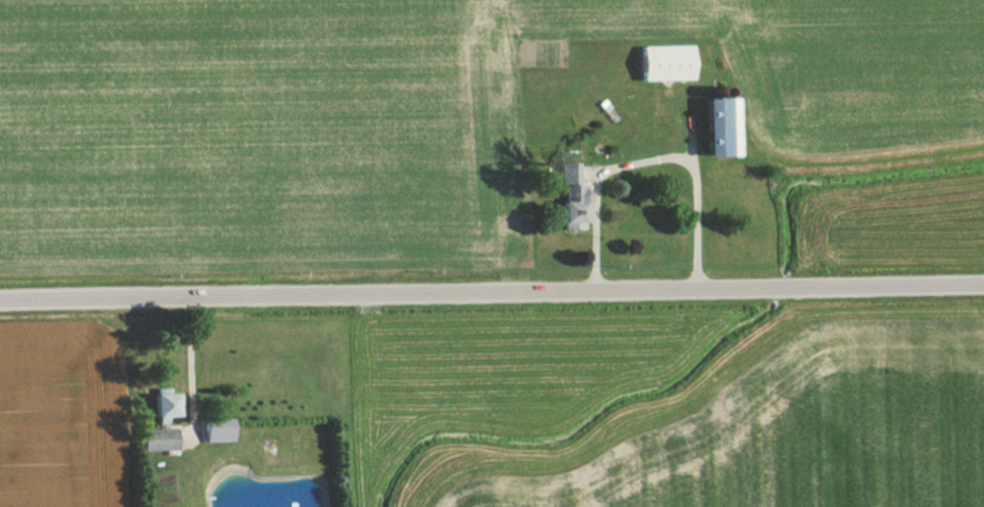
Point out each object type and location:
building: (664, 63)
crop: (393, 117)
building: (719, 129)
road: (645, 161)
building: (567, 177)
building: (567, 223)
crop: (901, 237)
road: (492, 293)
crop: (69, 418)
building: (159, 426)
building: (216, 431)
crop: (799, 433)

